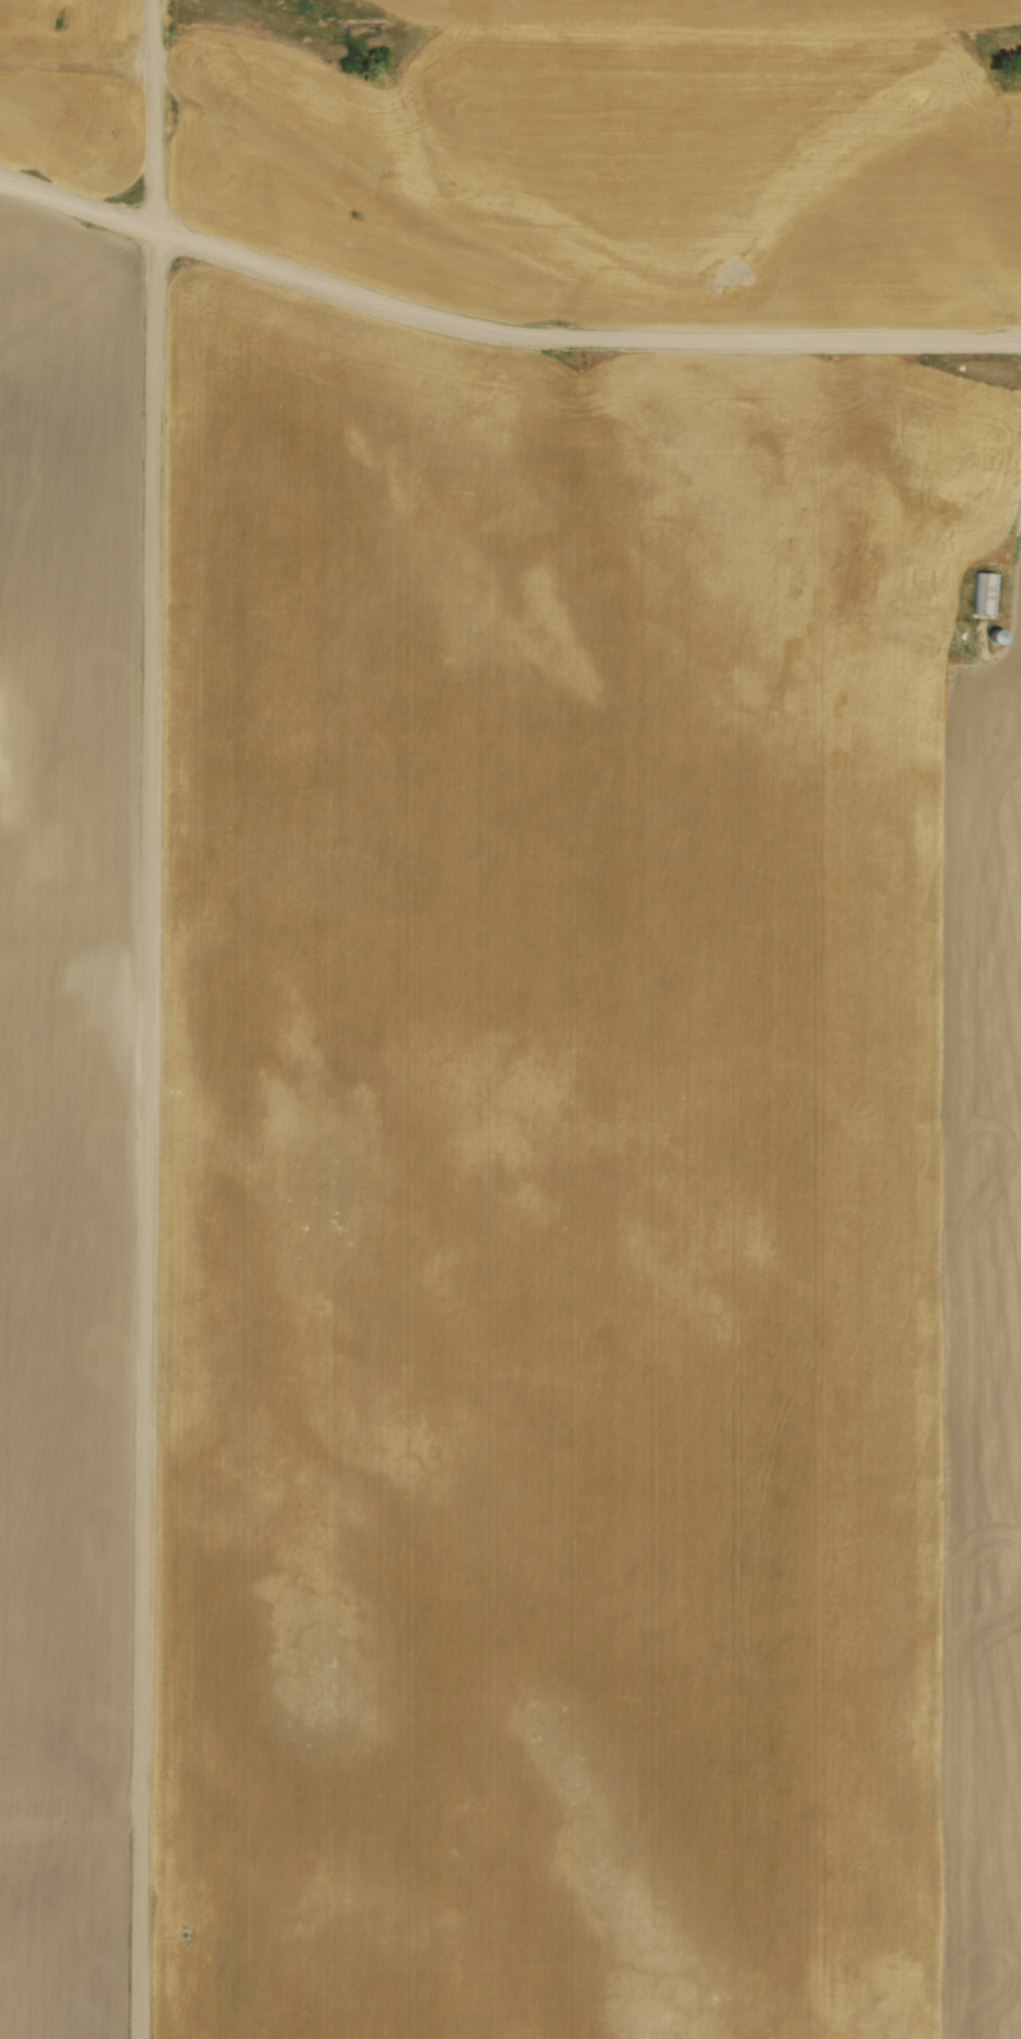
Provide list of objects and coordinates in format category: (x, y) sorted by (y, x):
crop: (73, 91)
road: (155, 114)
crop: (637, 158)
road: (499, 331)
road: (991, 524)
building: (985, 592)
building: (993, 636)
silo: (995, 636)
crop: (62, 1113)
road: (146, 1134)
crop: (590, 1190)

